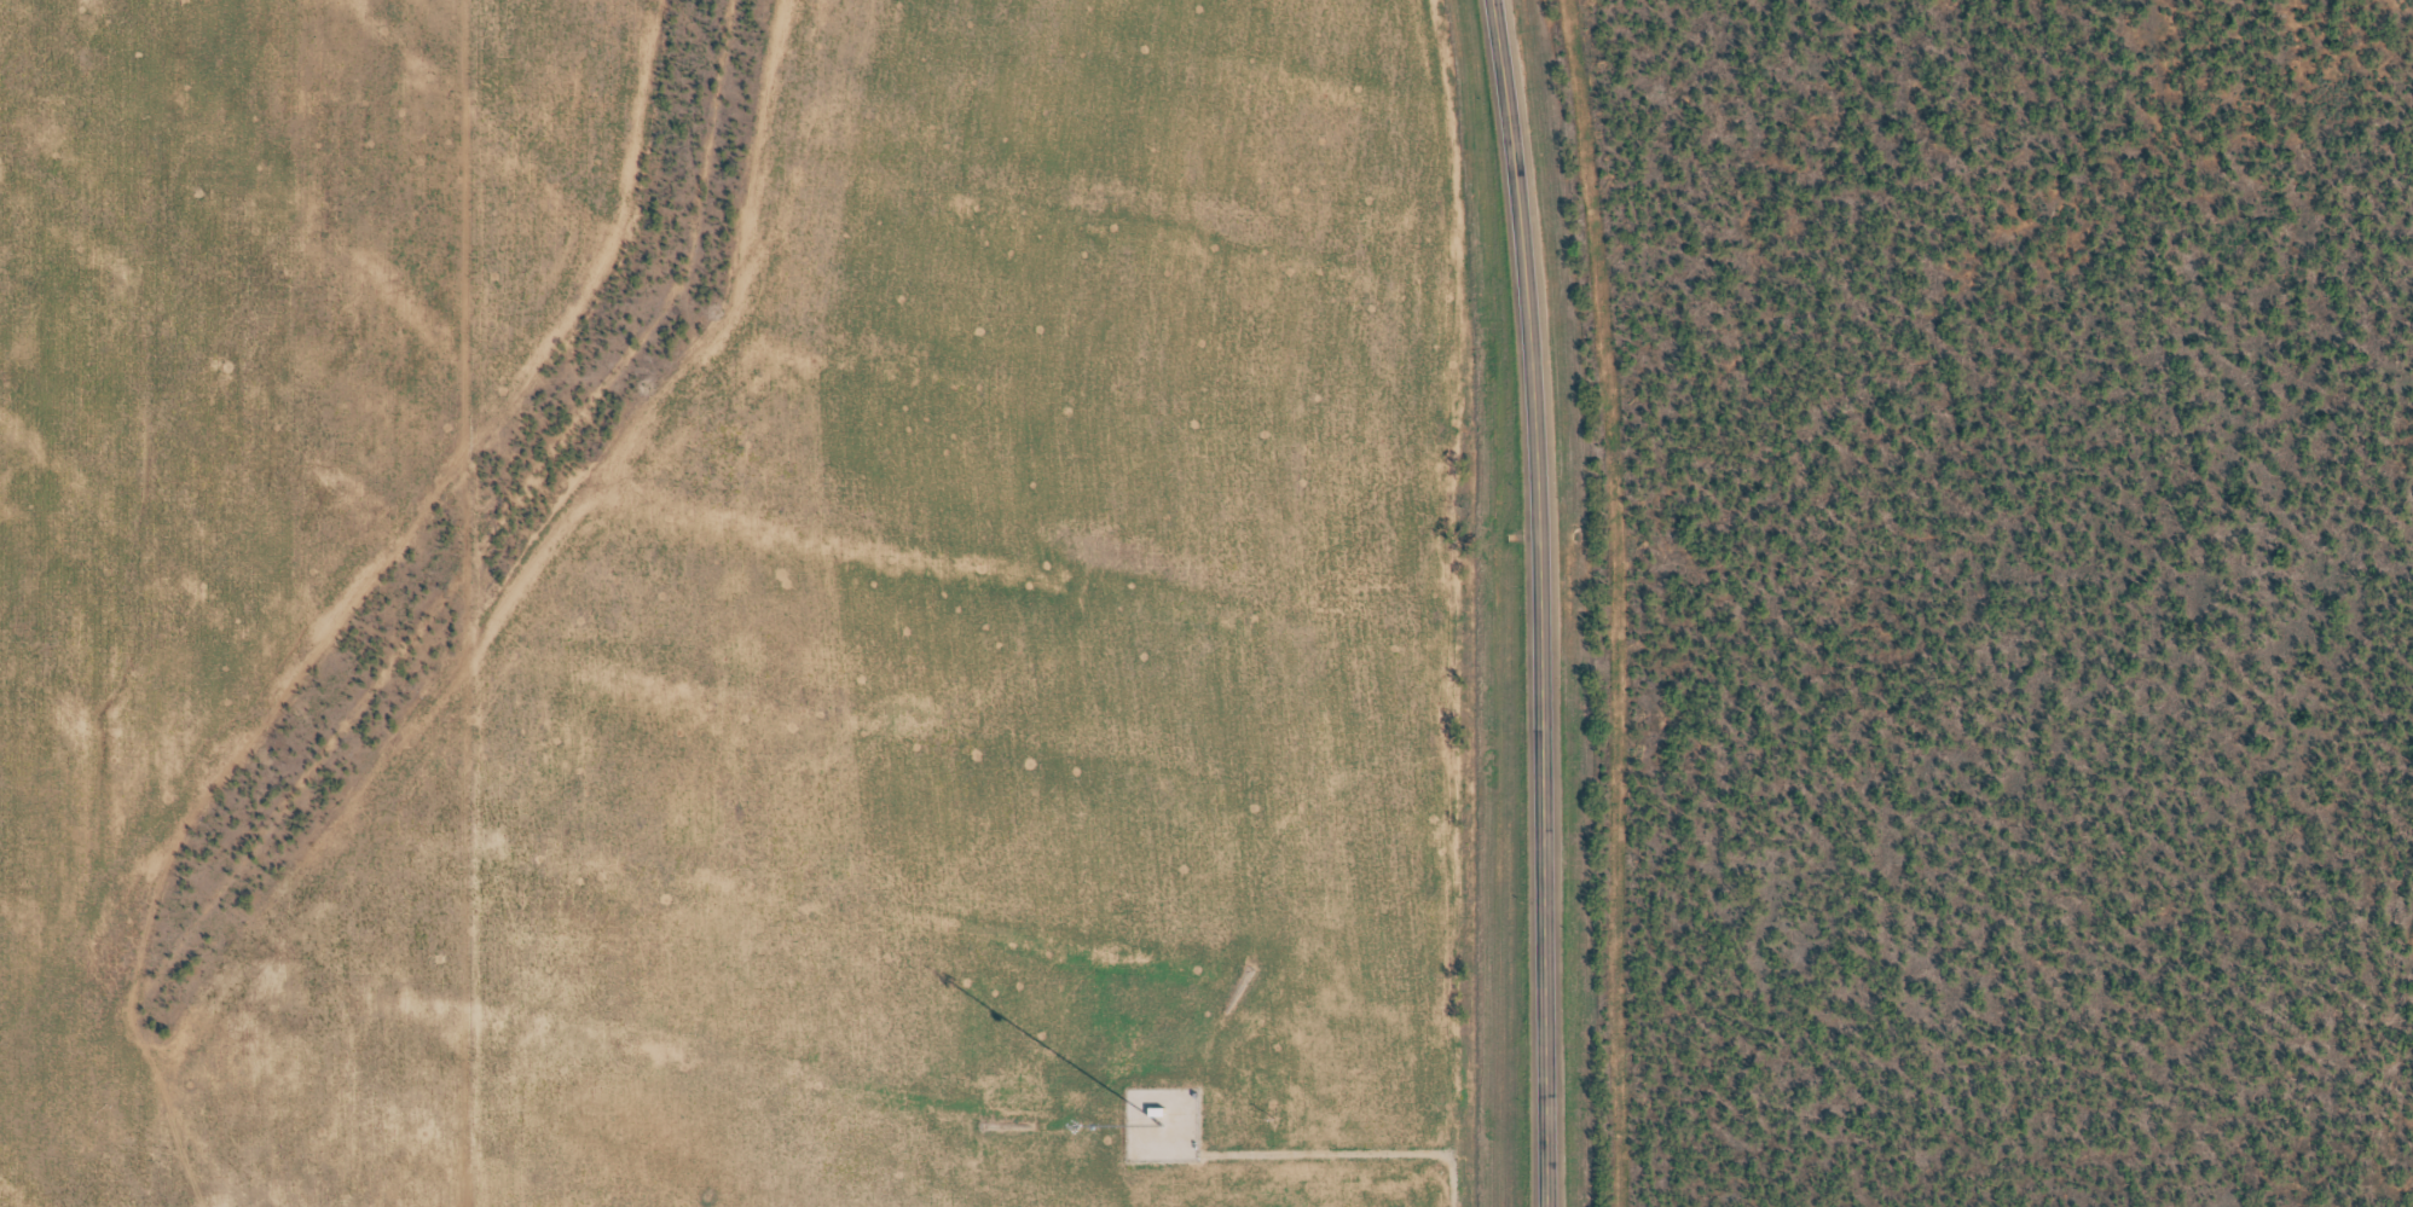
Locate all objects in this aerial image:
road: (1547, 602)
power substation: (1165, 1125)
road: (1356, 1151)

